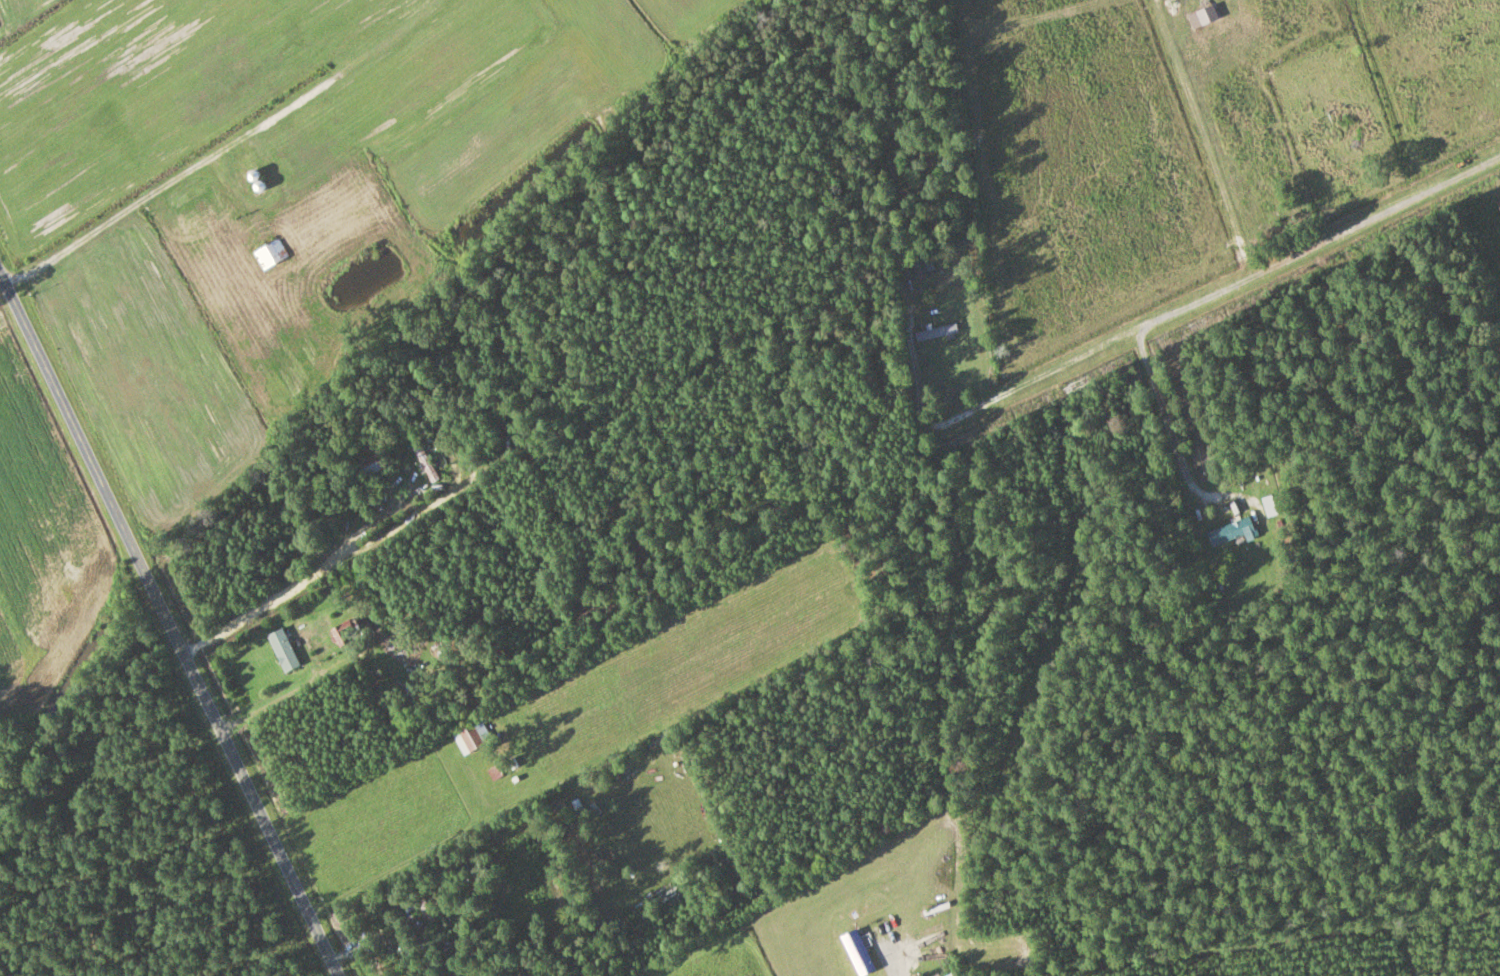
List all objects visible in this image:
building: (963, 201)
building: (1498, 203)
building: (269, 253)
building: (922, 267)
building: (935, 332)
building: (424, 462)
building: (370, 465)
building: (1228, 532)
road: (168, 626)
building: (470, 736)
building: (855, 952)

